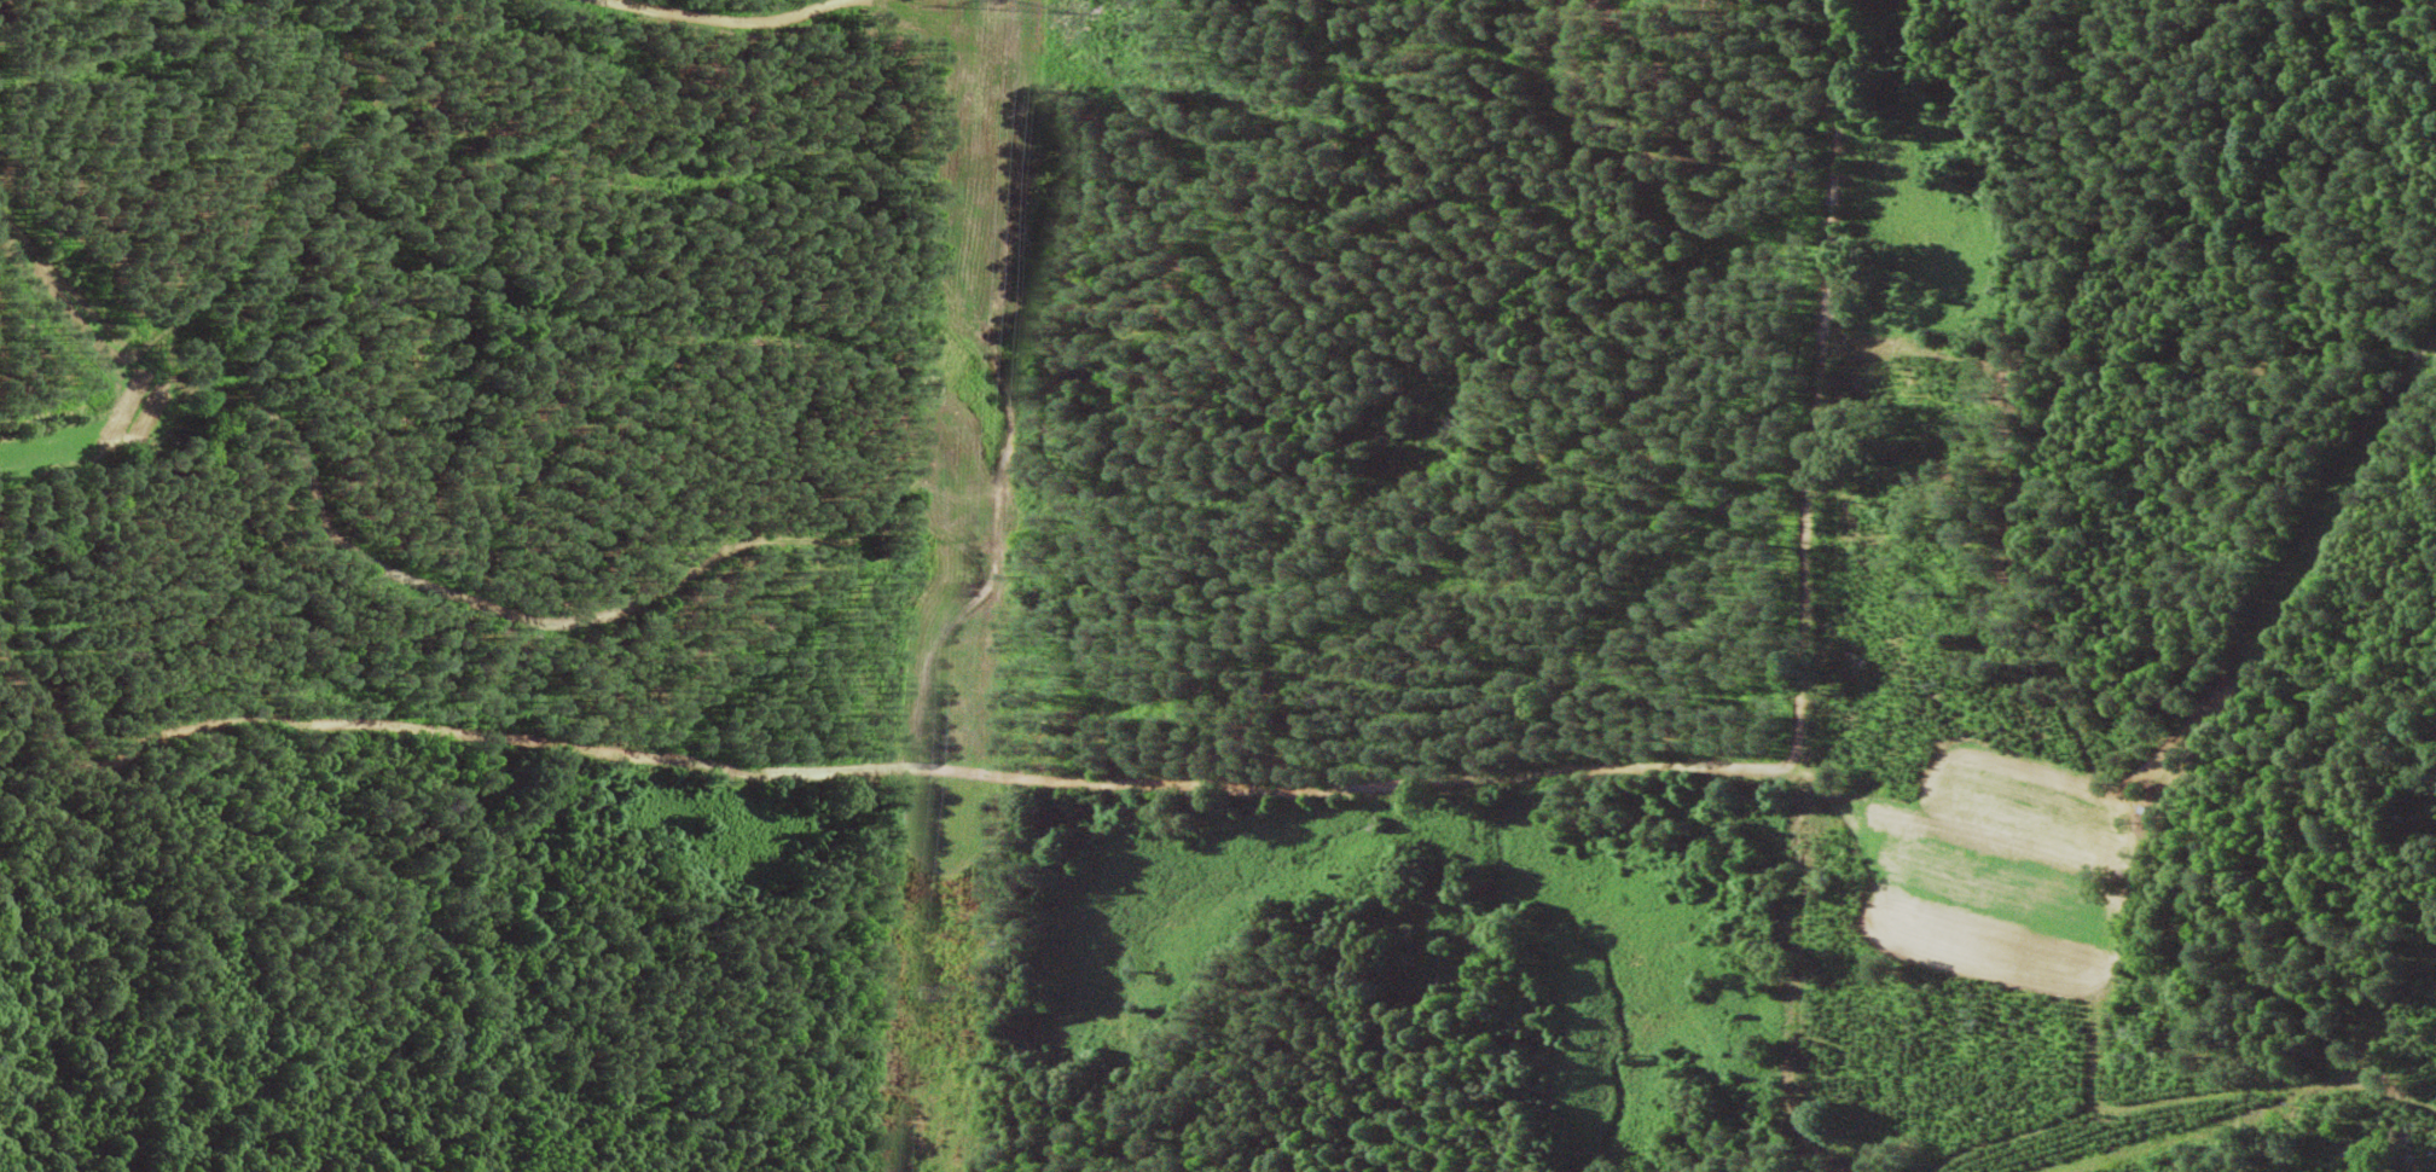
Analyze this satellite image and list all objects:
power tower: (996, 4)
power tower: (934, 994)
road: (1999, 1153)

